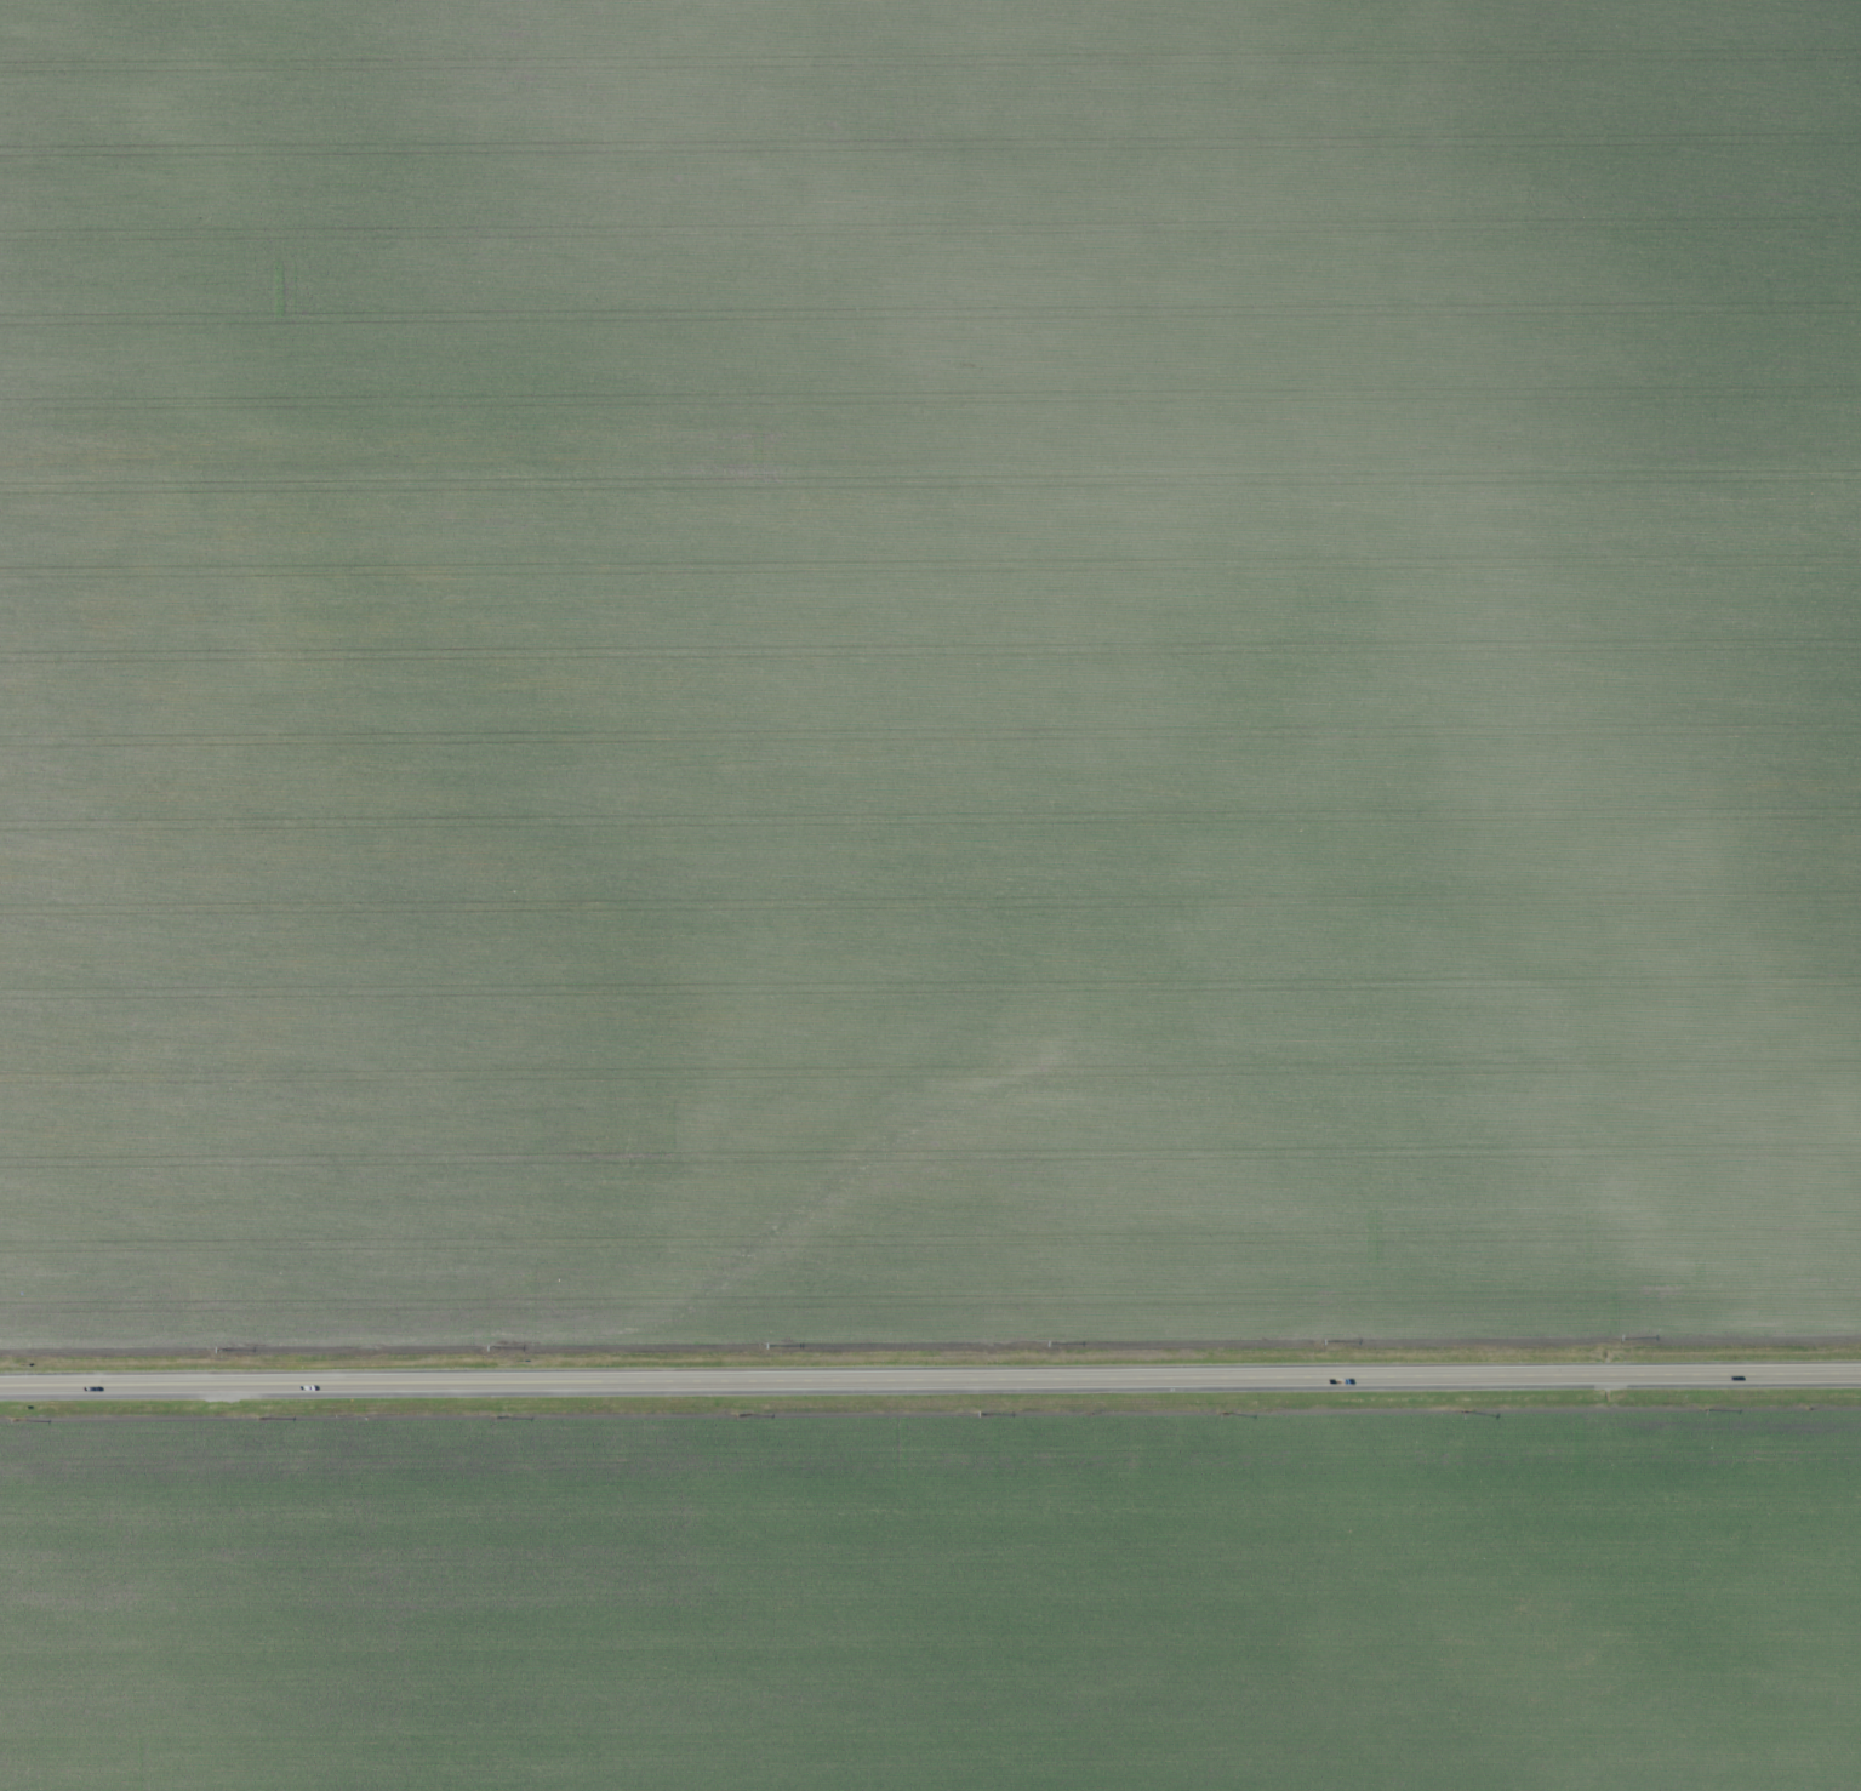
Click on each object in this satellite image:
road: (930, 1379)

